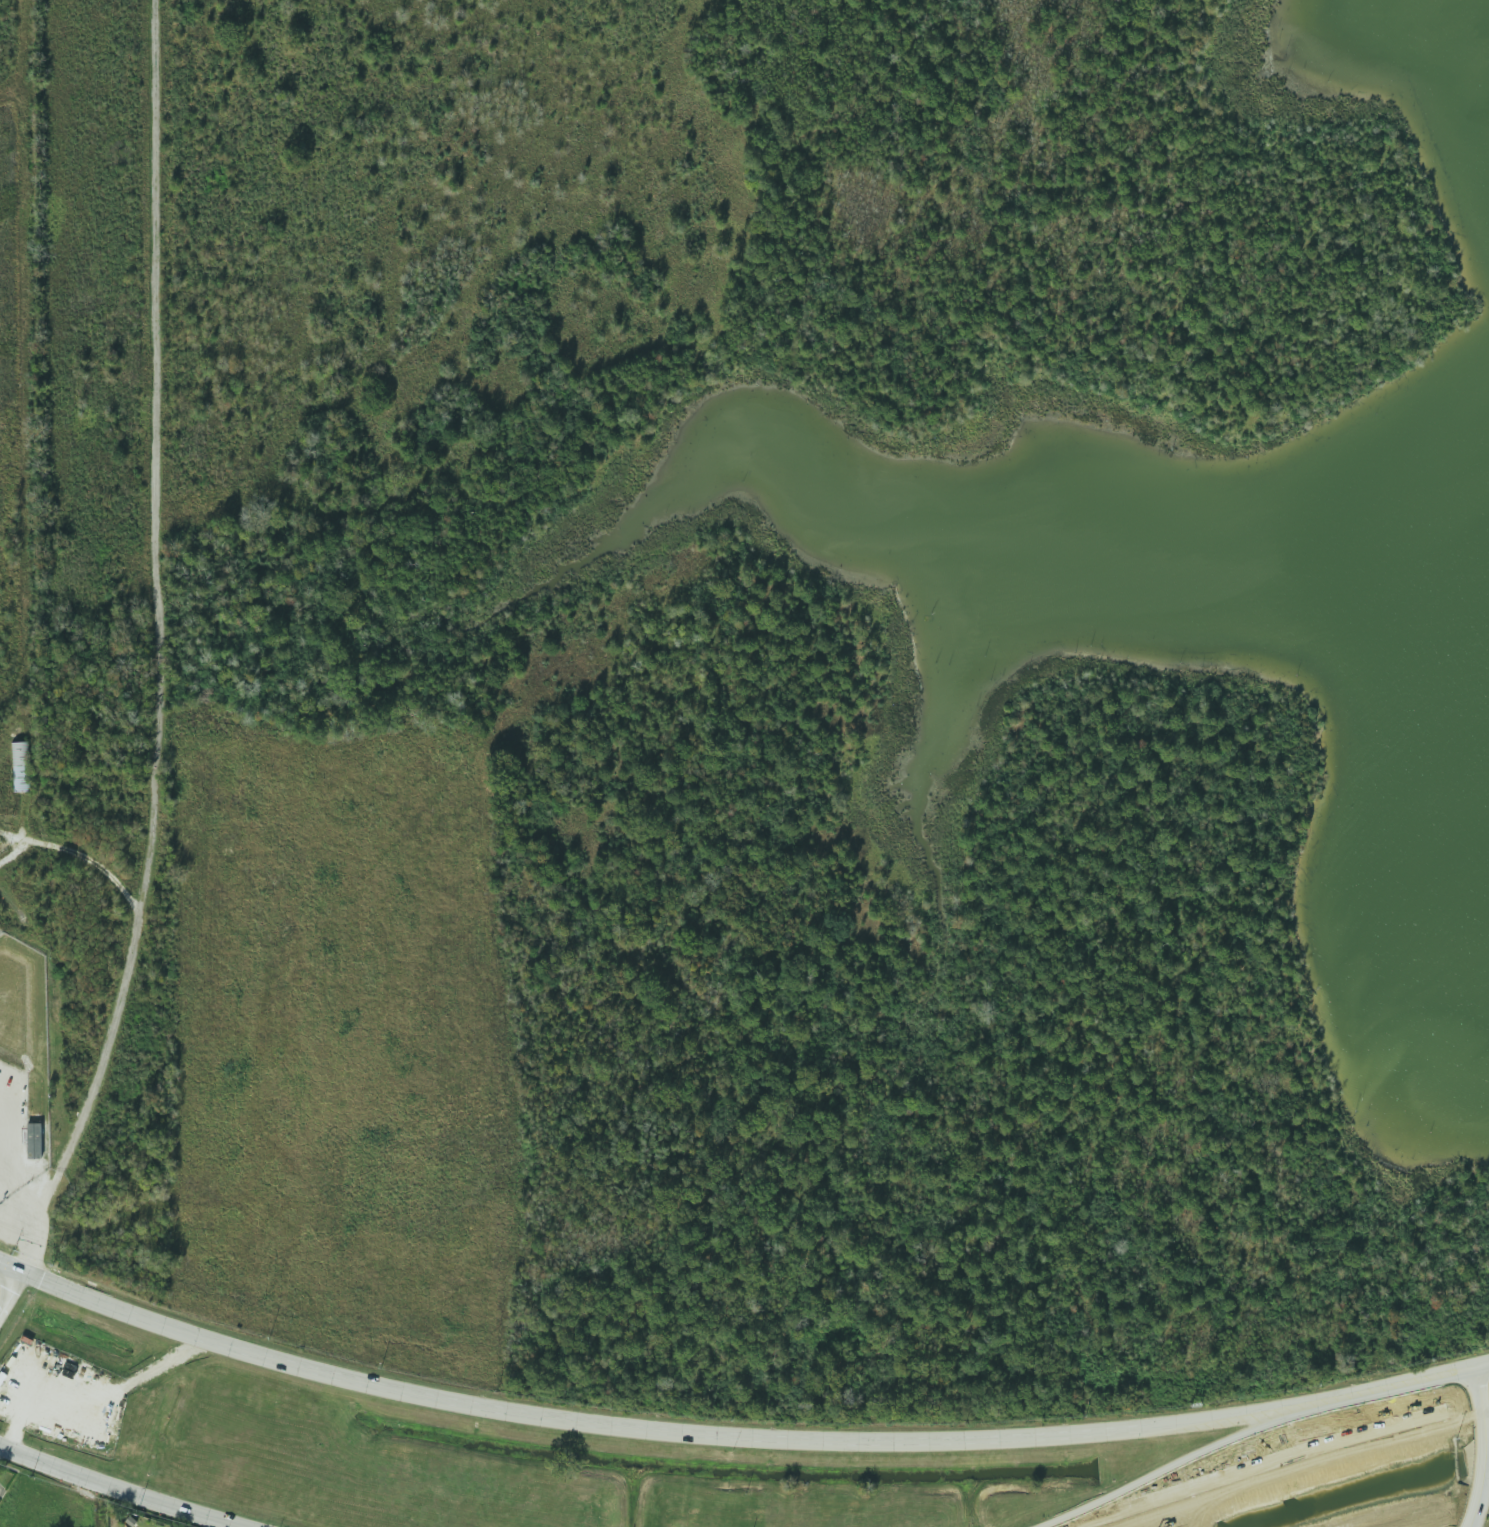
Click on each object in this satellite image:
road: (108, 1040)
building: (33, 1140)
road: (22, 1200)
traffic signals: (14, 1287)
road: (7, 1298)
road: (1483, 1366)
road: (1392, 1387)
road: (1432, 1420)
road: (1482, 1448)
road: (643, 1453)
road: (1240, 1474)
road: (121, 1489)

